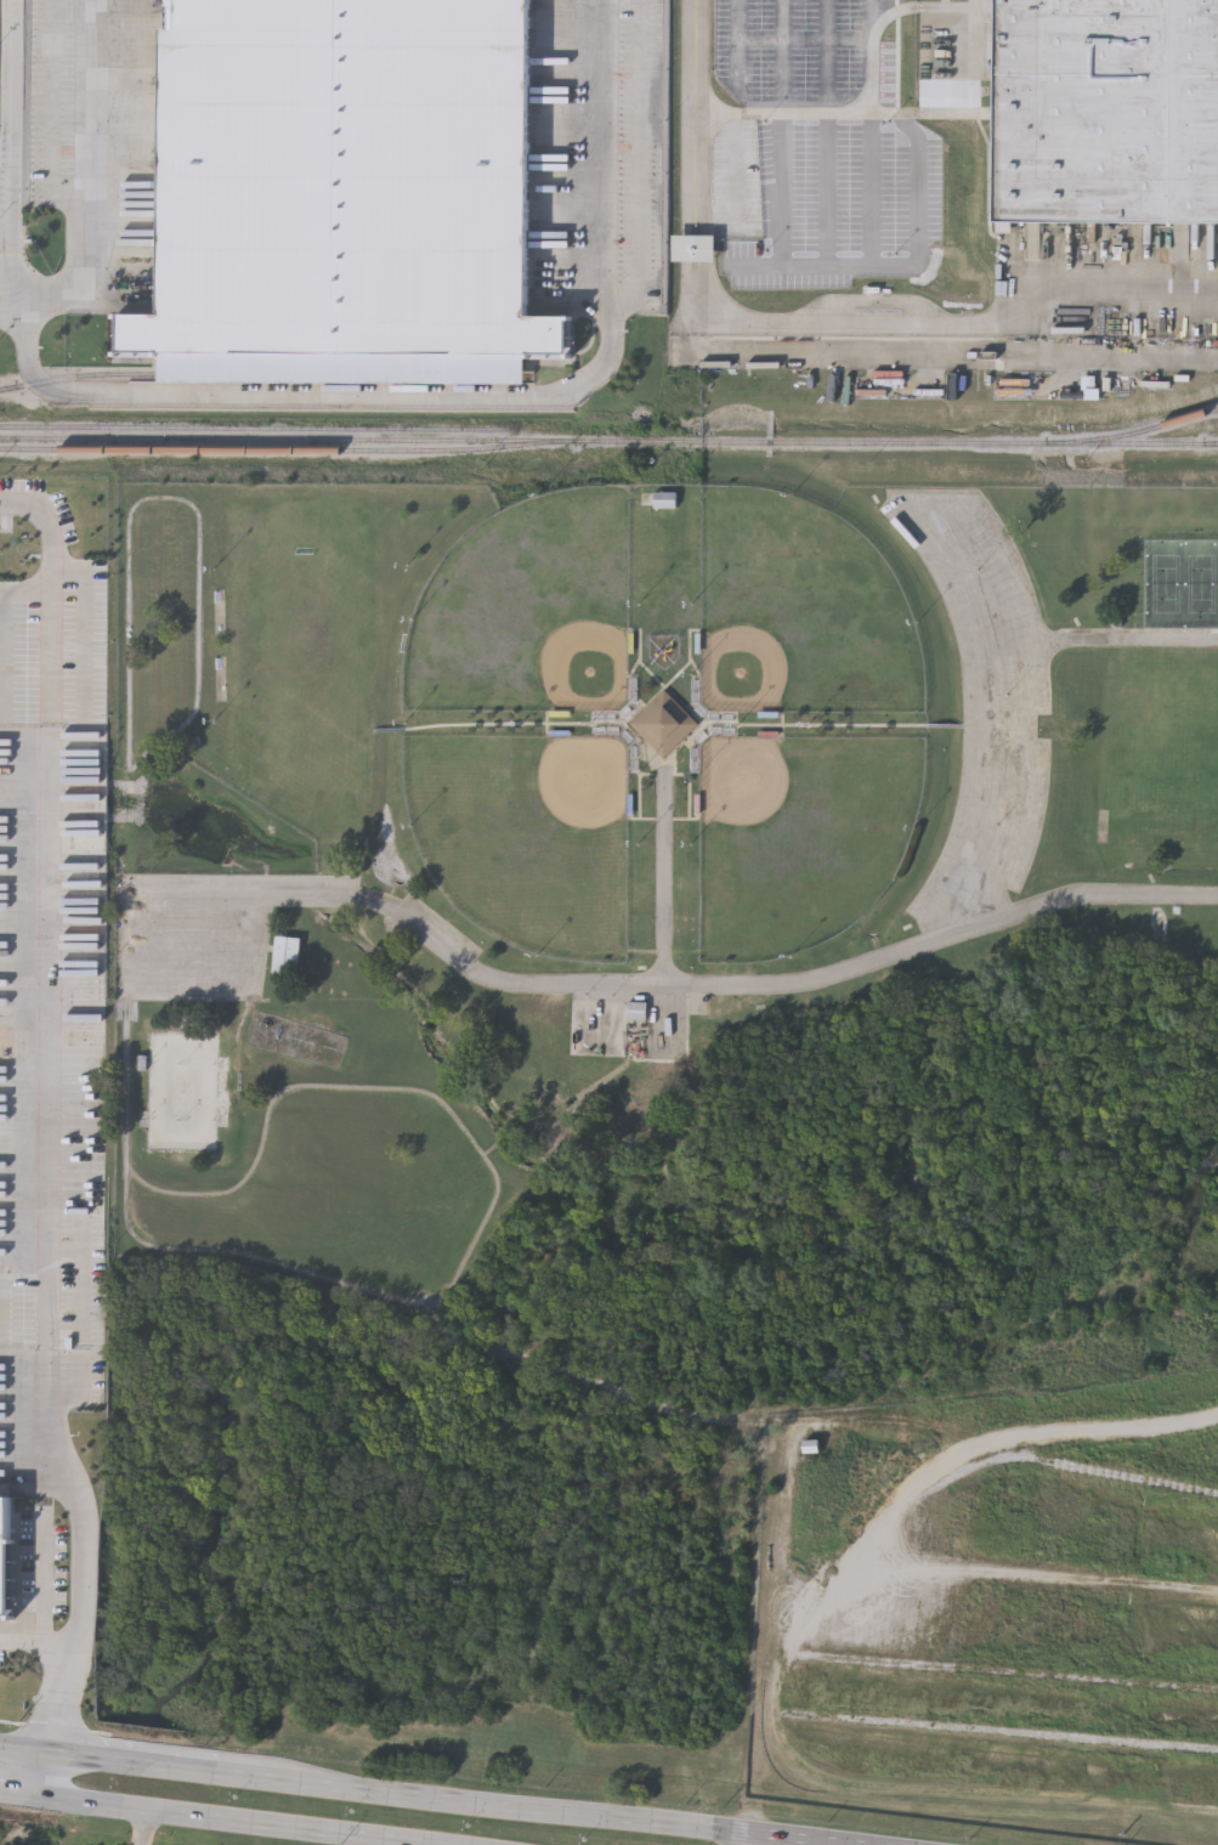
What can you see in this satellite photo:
road: (741, 39)
road: (9, 84)
road: (784, 109)
building: (1106, 111)
road: (644, 164)
building: (353, 171)
road: (85, 175)
road: (699, 177)
road: (828, 188)
road: (917, 194)
road: (10, 236)
building: (698, 250)
road: (827, 267)
road: (962, 318)
road: (957, 358)
railway: (260, 372)
road: (469, 396)
railway: (253, 423)
railway: (1133, 429)
railway: (378, 438)
railway: (987, 441)
railway: (283, 448)
building: (668, 502)
park: (1162, 581)
park: (1200, 581)
park: (527, 609)
park: (800, 609)
building: (668, 653)
building: (663, 720)
park: (597, 805)
park: (528, 832)
park: (800, 834)
road: (665, 875)
building: (290, 957)
road: (697, 980)
building: (641, 1013)
road: (34, 1077)
building: (185, 1102)
road: (999, 1447)
building: (6, 1557)
road: (61, 1663)
road: (23, 1747)
road: (165, 1762)
road: (41, 1772)
road: (18, 1793)
road: (514, 1805)
road: (230, 1819)
road: (141, 1827)
road: (741, 1839)
road: (791, 1839)

